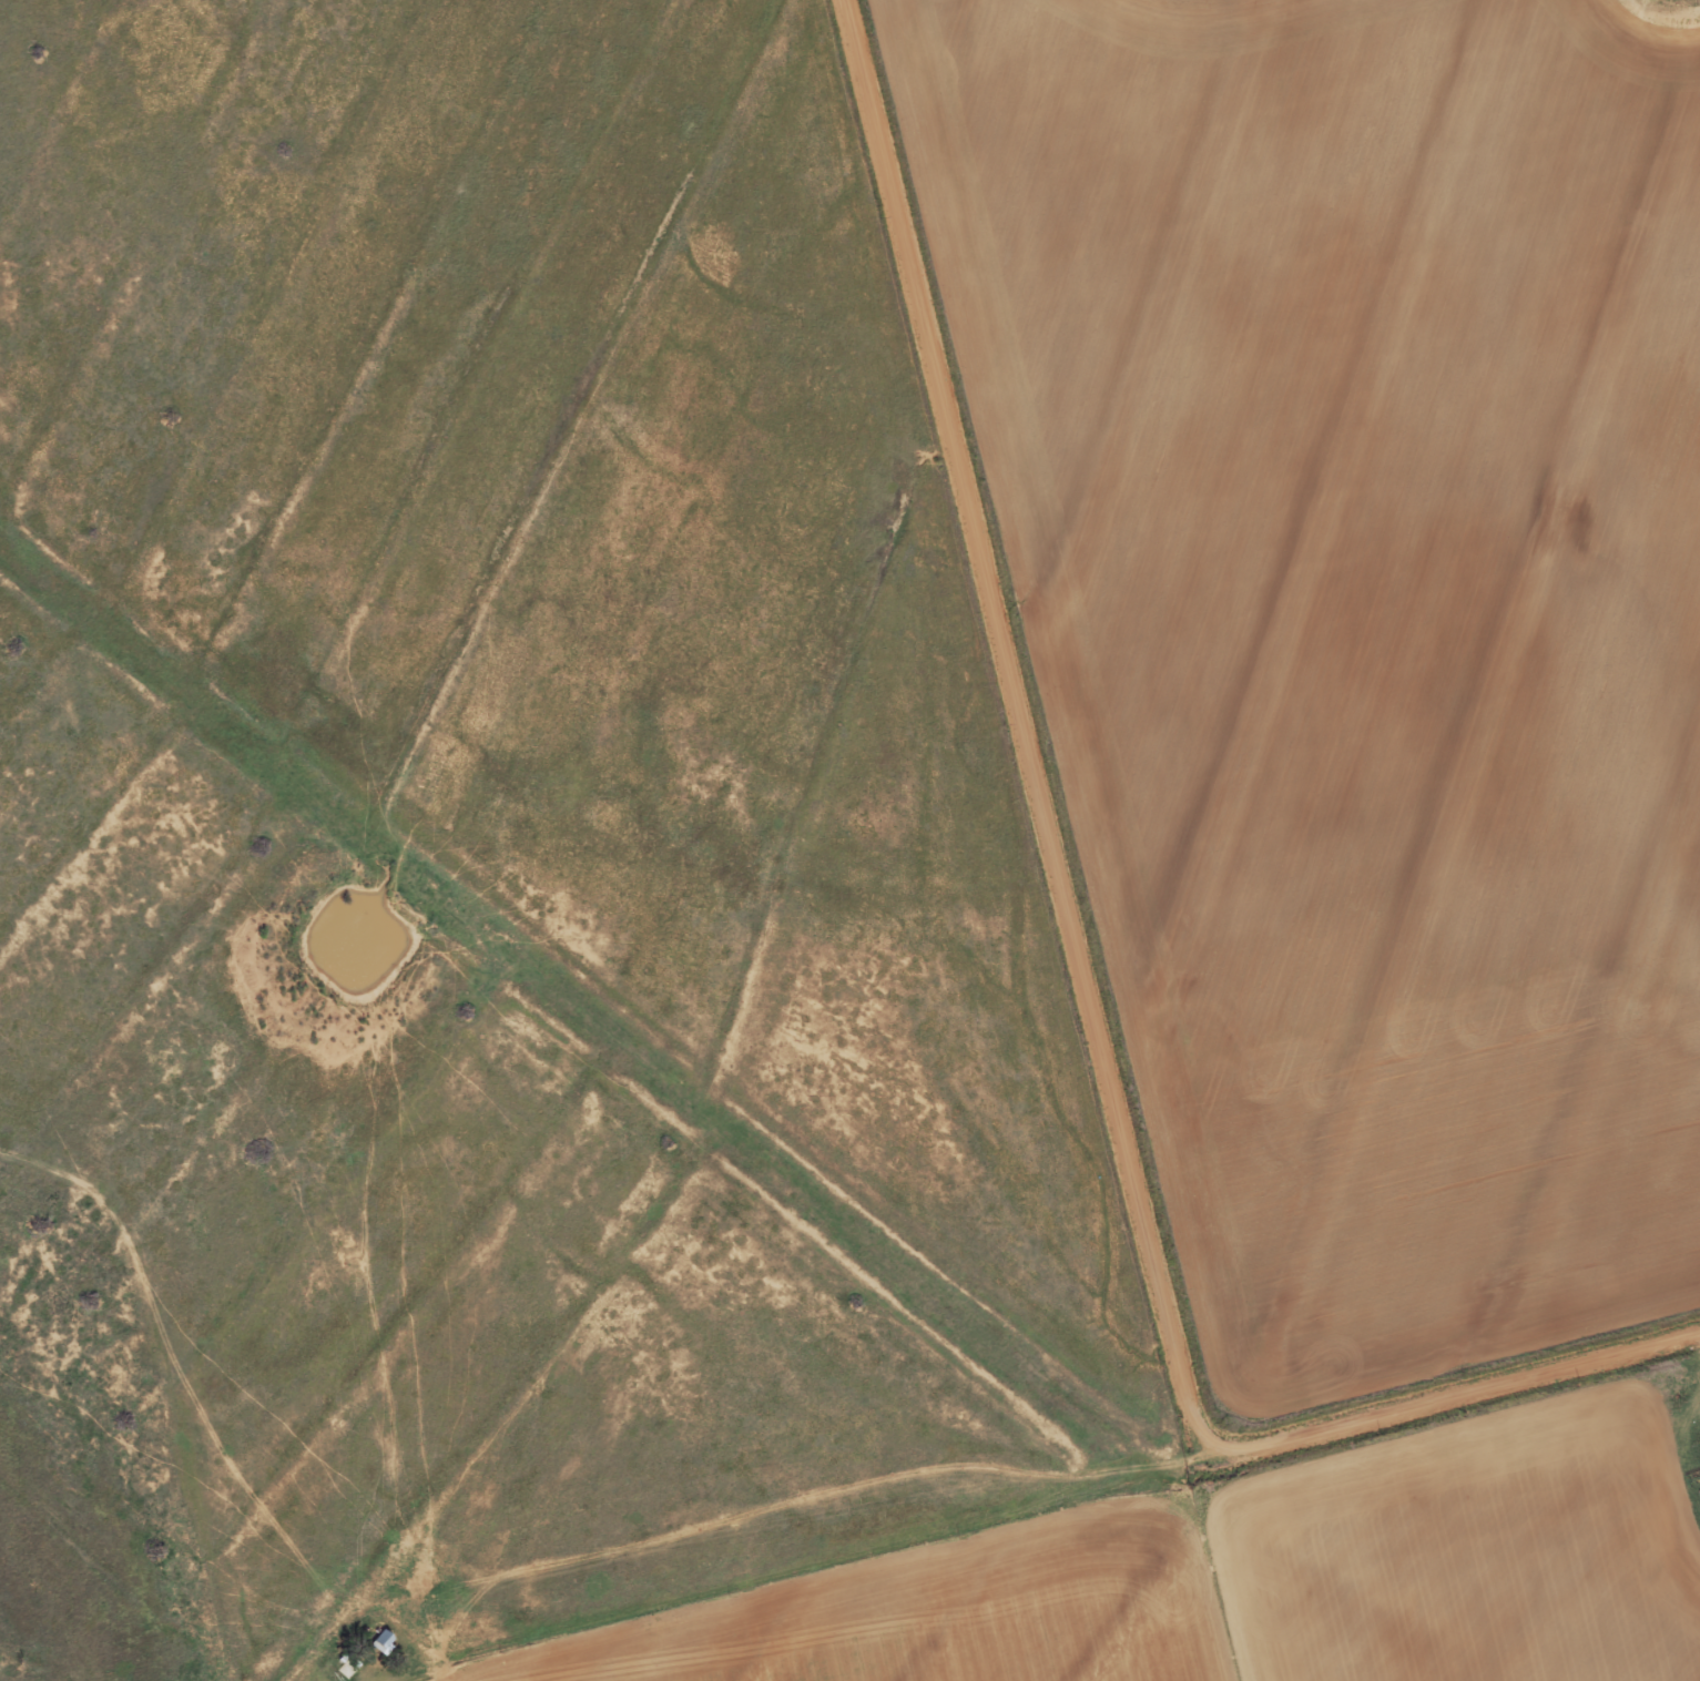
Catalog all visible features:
road: (1022, 730)
road: (1449, 1399)
building: (381, 1643)

